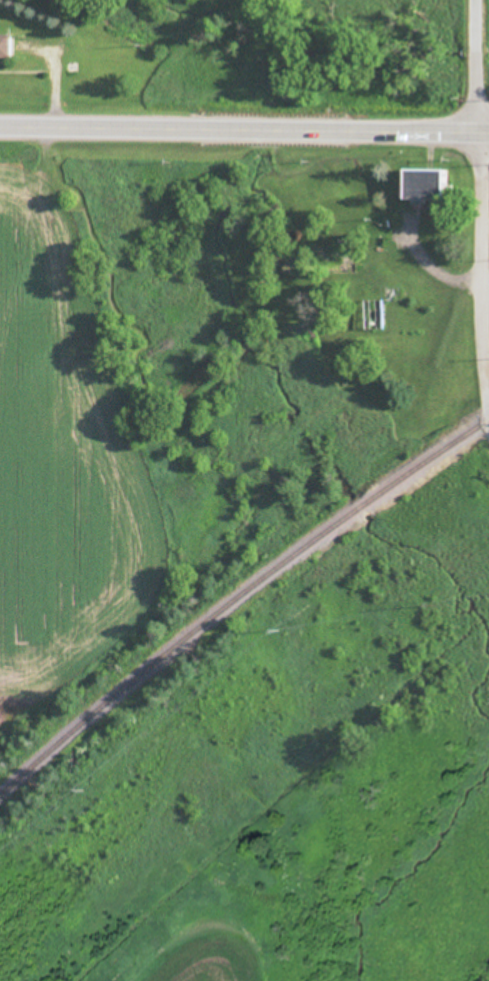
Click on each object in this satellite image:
building: (4, 49)
road: (473, 64)
road: (237, 112)
road: (481, 129)
building: (424, 188)
road: (482, 278)
building: (372, 317)
railway: (237, 599)

